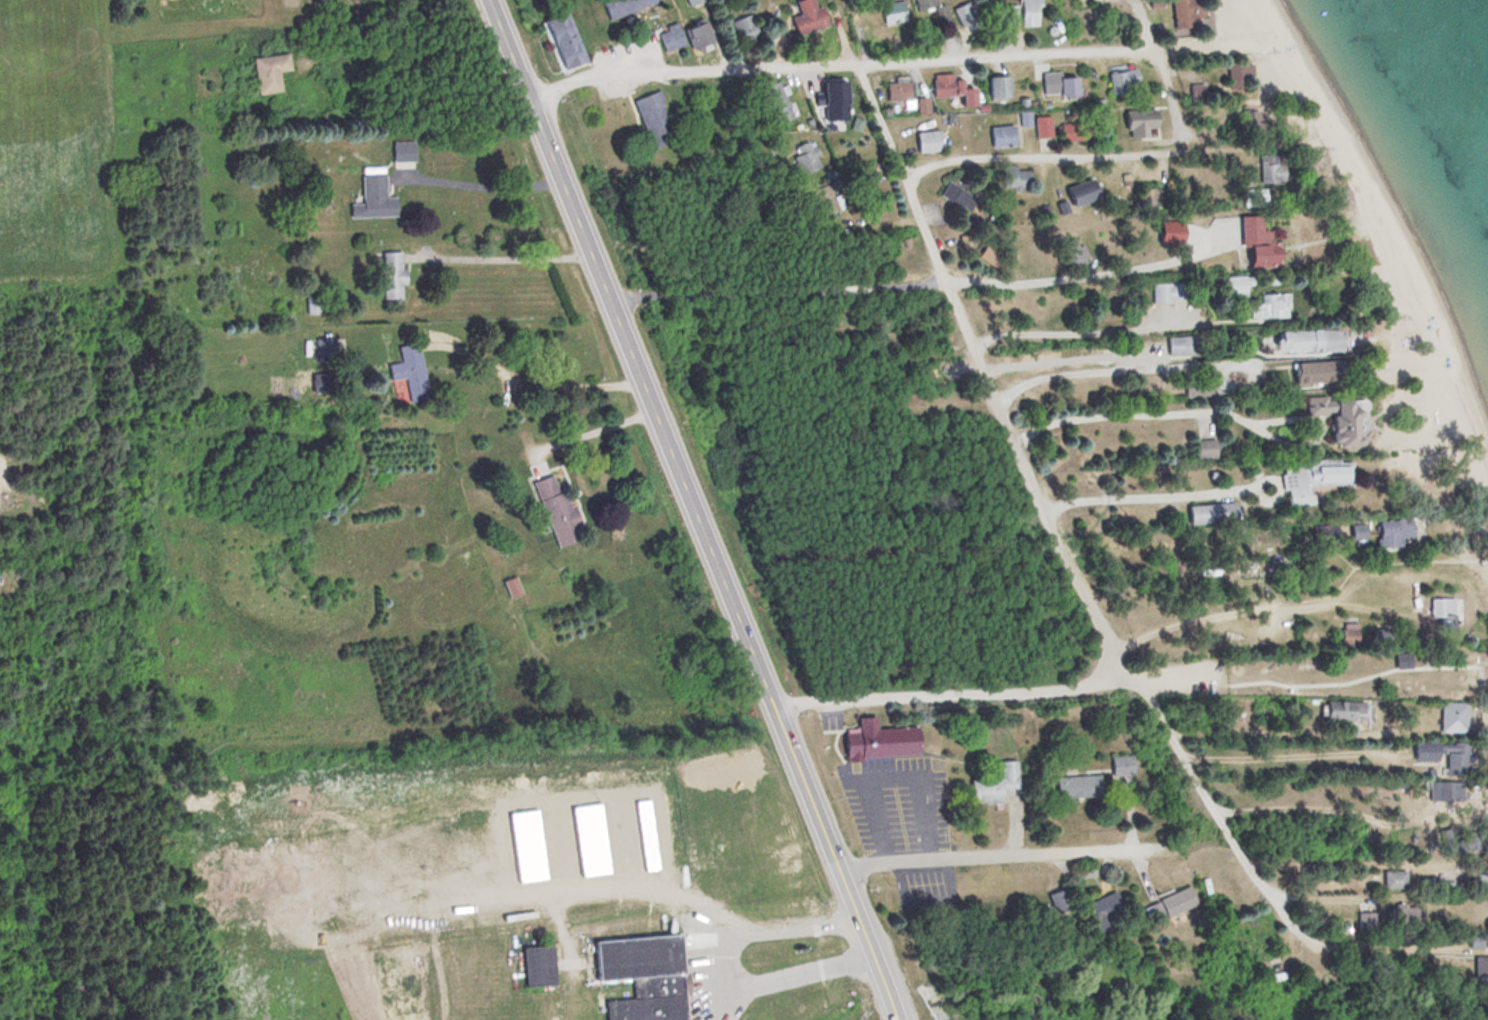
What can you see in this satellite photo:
building: (691, 2)
building: (923, 4)
building: (623, 7)
building: (890, 15)
building: (1016, 15)
building: (1182, 15)
building: (806, 18)
building: (964, 18)
building: (745, 30)
building: (684, 39)
building: (561, 42)
road: (879, 62)
building: (264, 75)
building: (1237, 76)
building: (1120, 82)
building: (1059, 89)
building: (996, 90)
building: (949, 91)
building: (899, 95)
building: (831, 102)
building: (775, 104)
building: (922, 107)
building: (652, 121)
road: (1128, 123)
building: (1247, 123)
building: (1137, 124)
building: (1041, 129)
building: (1001, 138)
building: (925, 143)
road: (744, 161)
building: (804, 162)
building: (1267, 171)
building: (1013, 180)
building: (1079, 194)
building: (372, 199)
building: (955, 199)
building: (1248, 200)
building: (823, 202)
building: (1165, 234)
building: (1251, 246)
building: (1075, 256)
building: (390, 277)
building: (1232, 290)
building: (1163, 294)
building: (1266, 308)
road: (1141, 339)
building: (1300, 343)
building: (1179, 349)
building: (408, 374)
building: (1306, 375)
road: (982, 389)
building: (1196, 391)
building: (1333, 422)
building: (1206, 452)
building: (1311, 481)
road: (960, 492)
road: (695, 510)
building: (554, 513)
building: (1210, 517)
building: (1390, 533)
building: (1323, 535)
building: (509, 589)
building: (1436, 607)
building: (1344, 633)
road: (1216, 655)
road: (946, 690)
building: (1335, 711)
building: (1449, 717)
building: (878, 742)
building: (1440, 755)
building: (1120, 766)
building: (992, 786)
building: (1078, 787)
building: (1442, 791)
road: (1221, 835)
road: (1004, 857)
building: (1392, 879)
building: (1480, 883)
building: (1059, 901)
building: (1176, 902)
building: (1104, 908)
building: (1403, 916)
building: (1364, 920)
building: (536, 967)
building: (1479, 968)
building: (639, 976)

